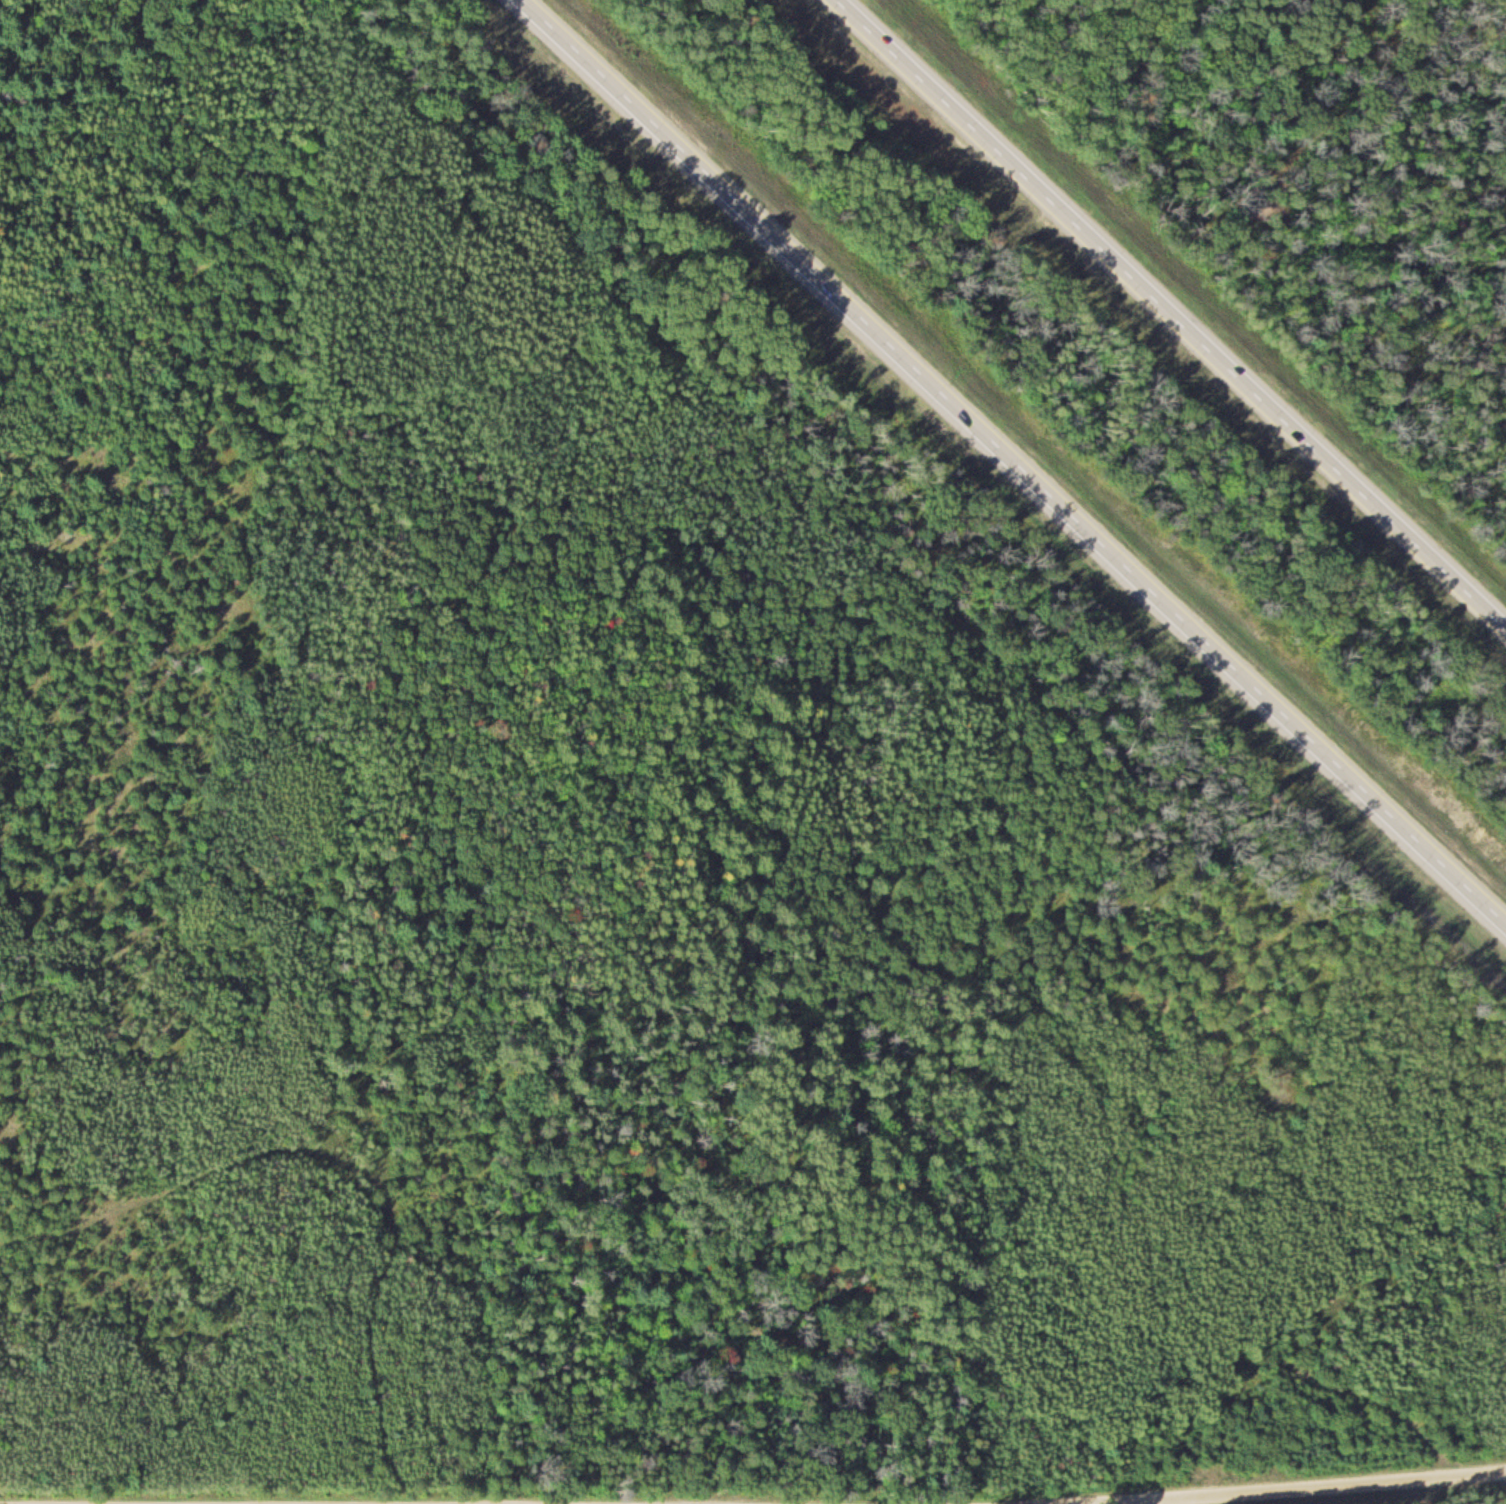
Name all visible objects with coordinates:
road: (1175, 310)
road: (1017, 459)
road: (1268, 1486)

